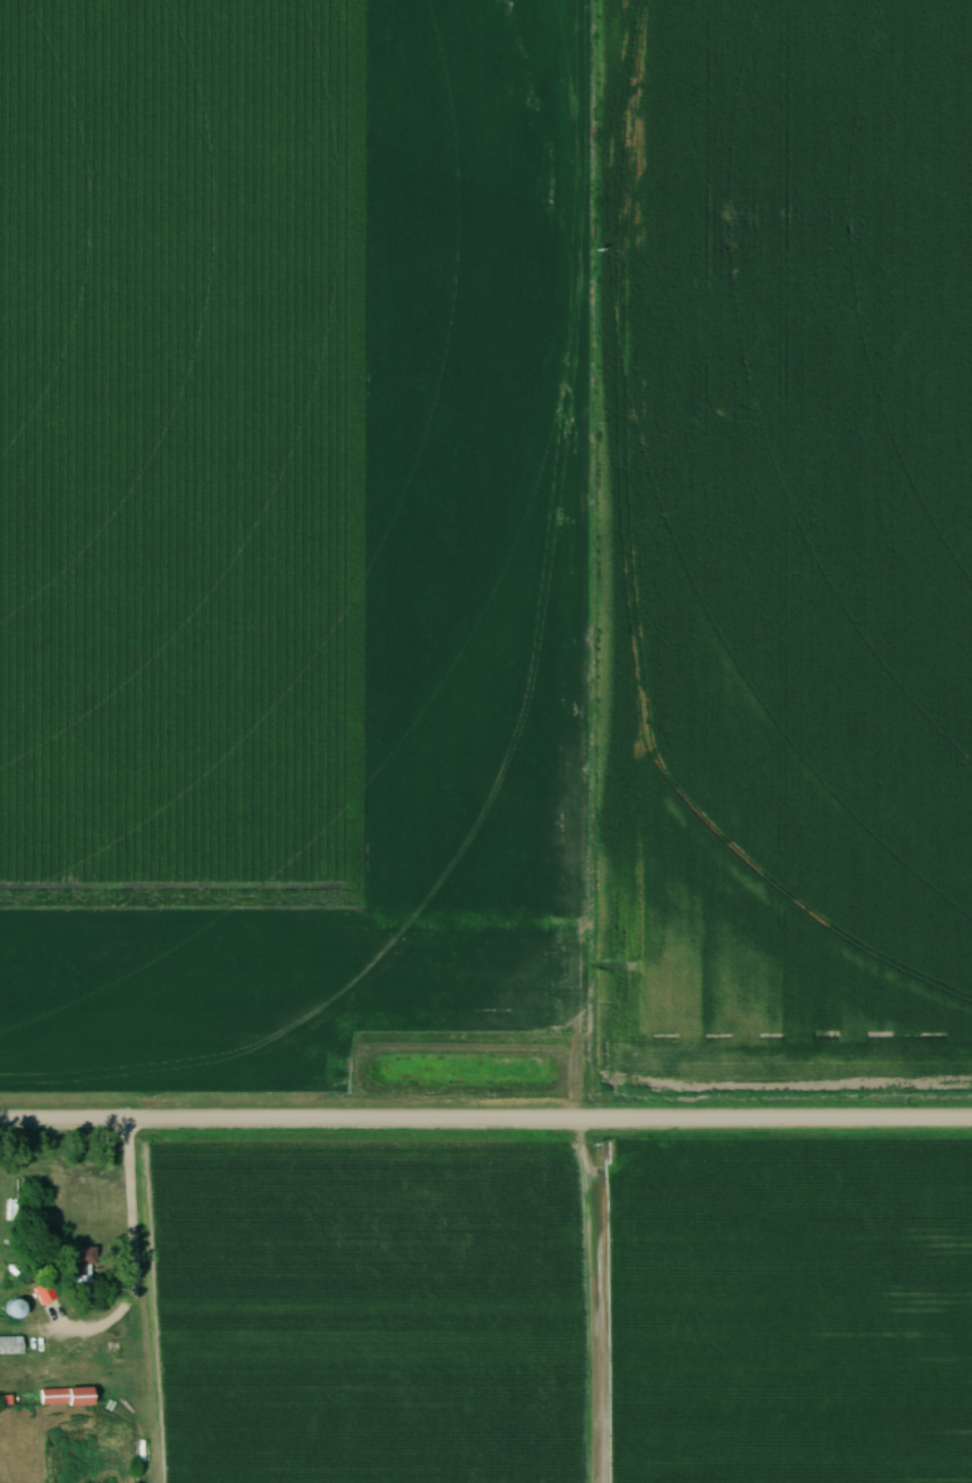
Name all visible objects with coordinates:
road: (485, 1123)
road: (134, 1263)
building: (78, 1267)
building: (40, 1295)
building: (10, 1310)
building: (10, 1346)
building: (62, 1398)

